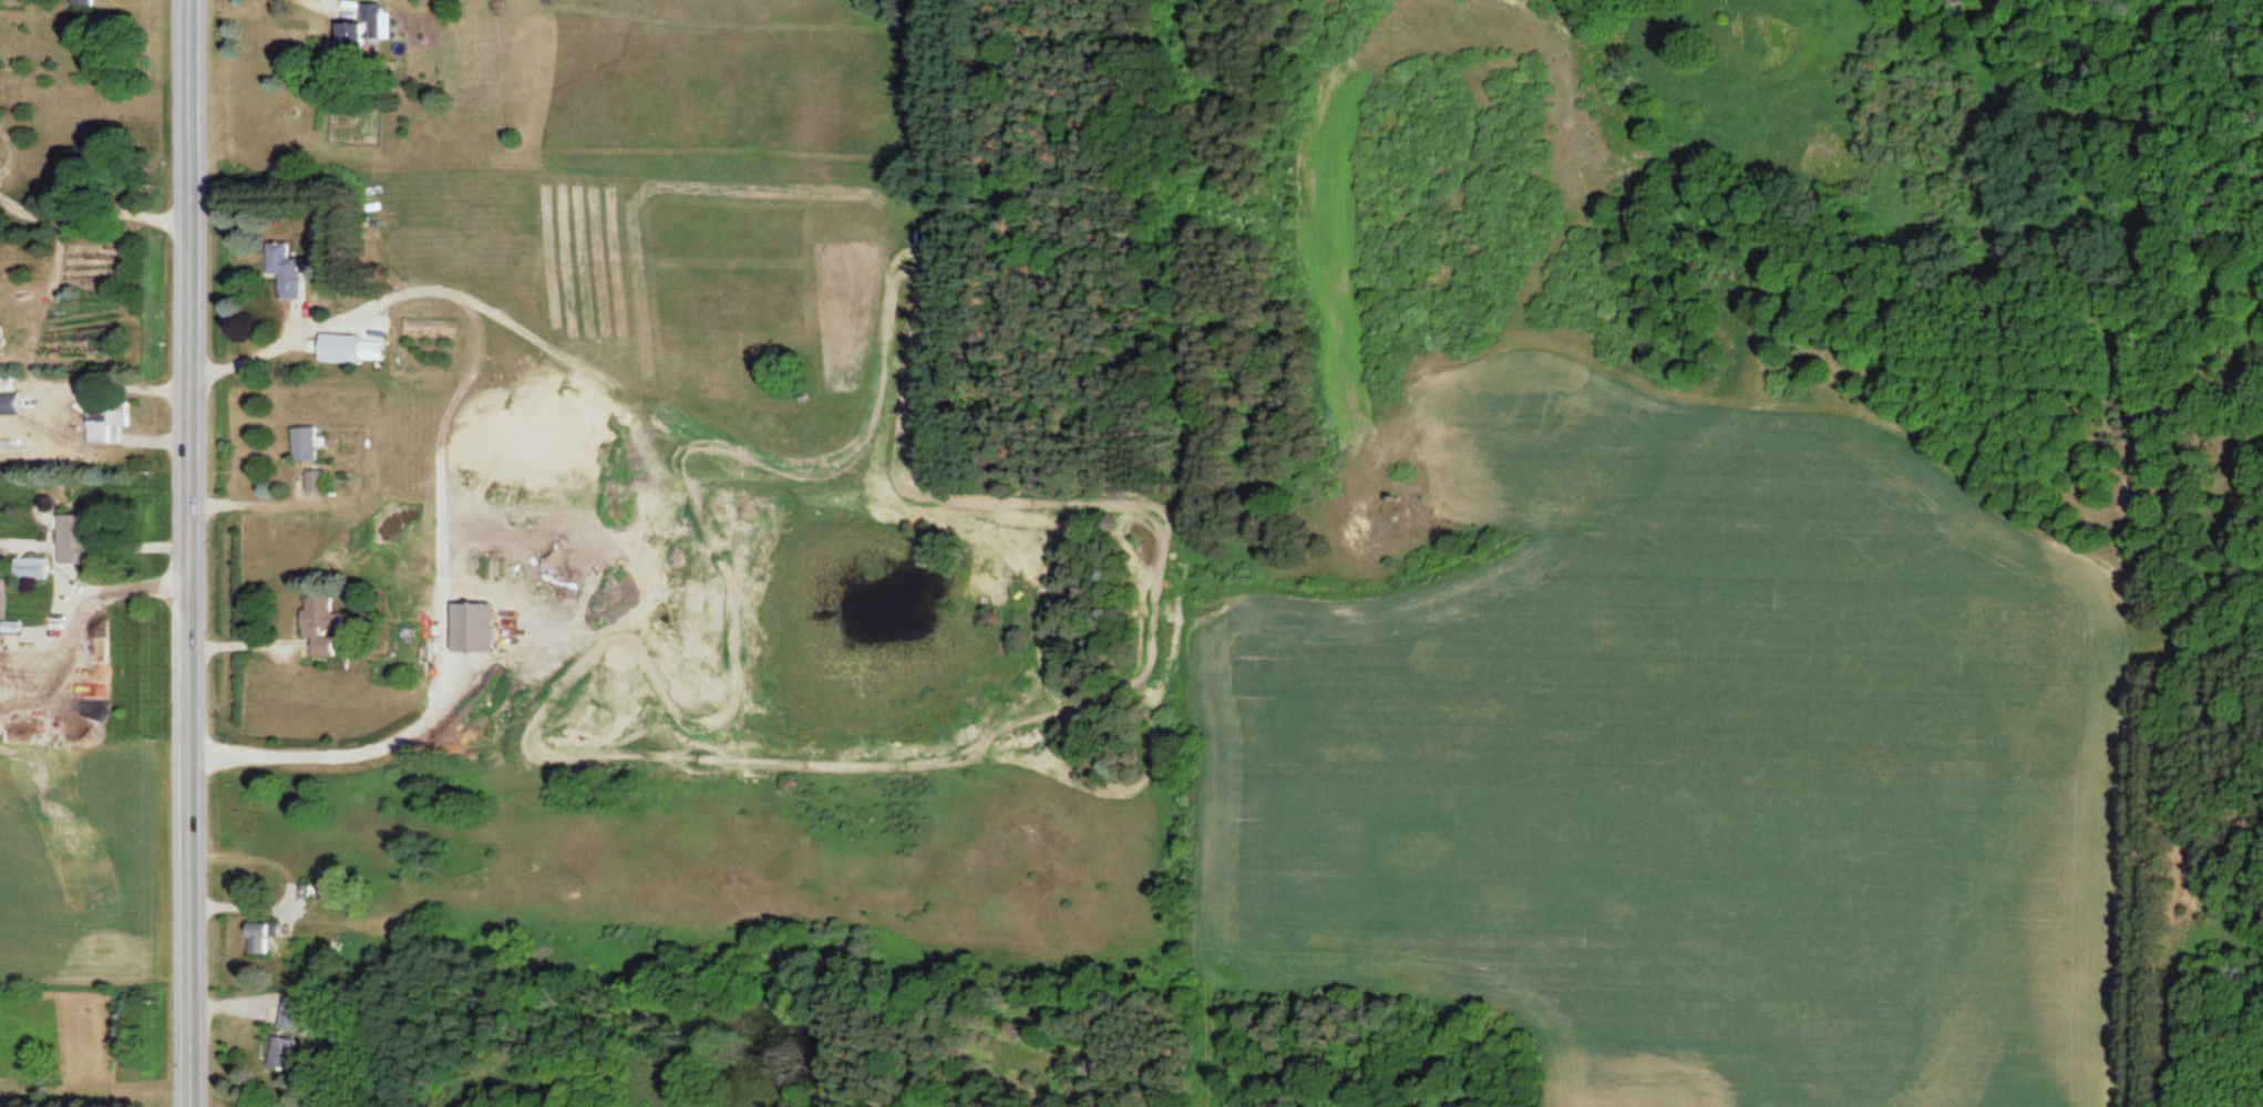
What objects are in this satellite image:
building: (76, 2)
building: (359, 29)
building: (281, 269)
building: (358, 350)
building: (99, 420)
building: (302, 444)
building: (313, 480)
building: (72, 540)
road: (189, 553)
building: (29, 570)
building: (317, 614)
building: (255, 940)
building: (288, 1017)
building: (280, 1053)

